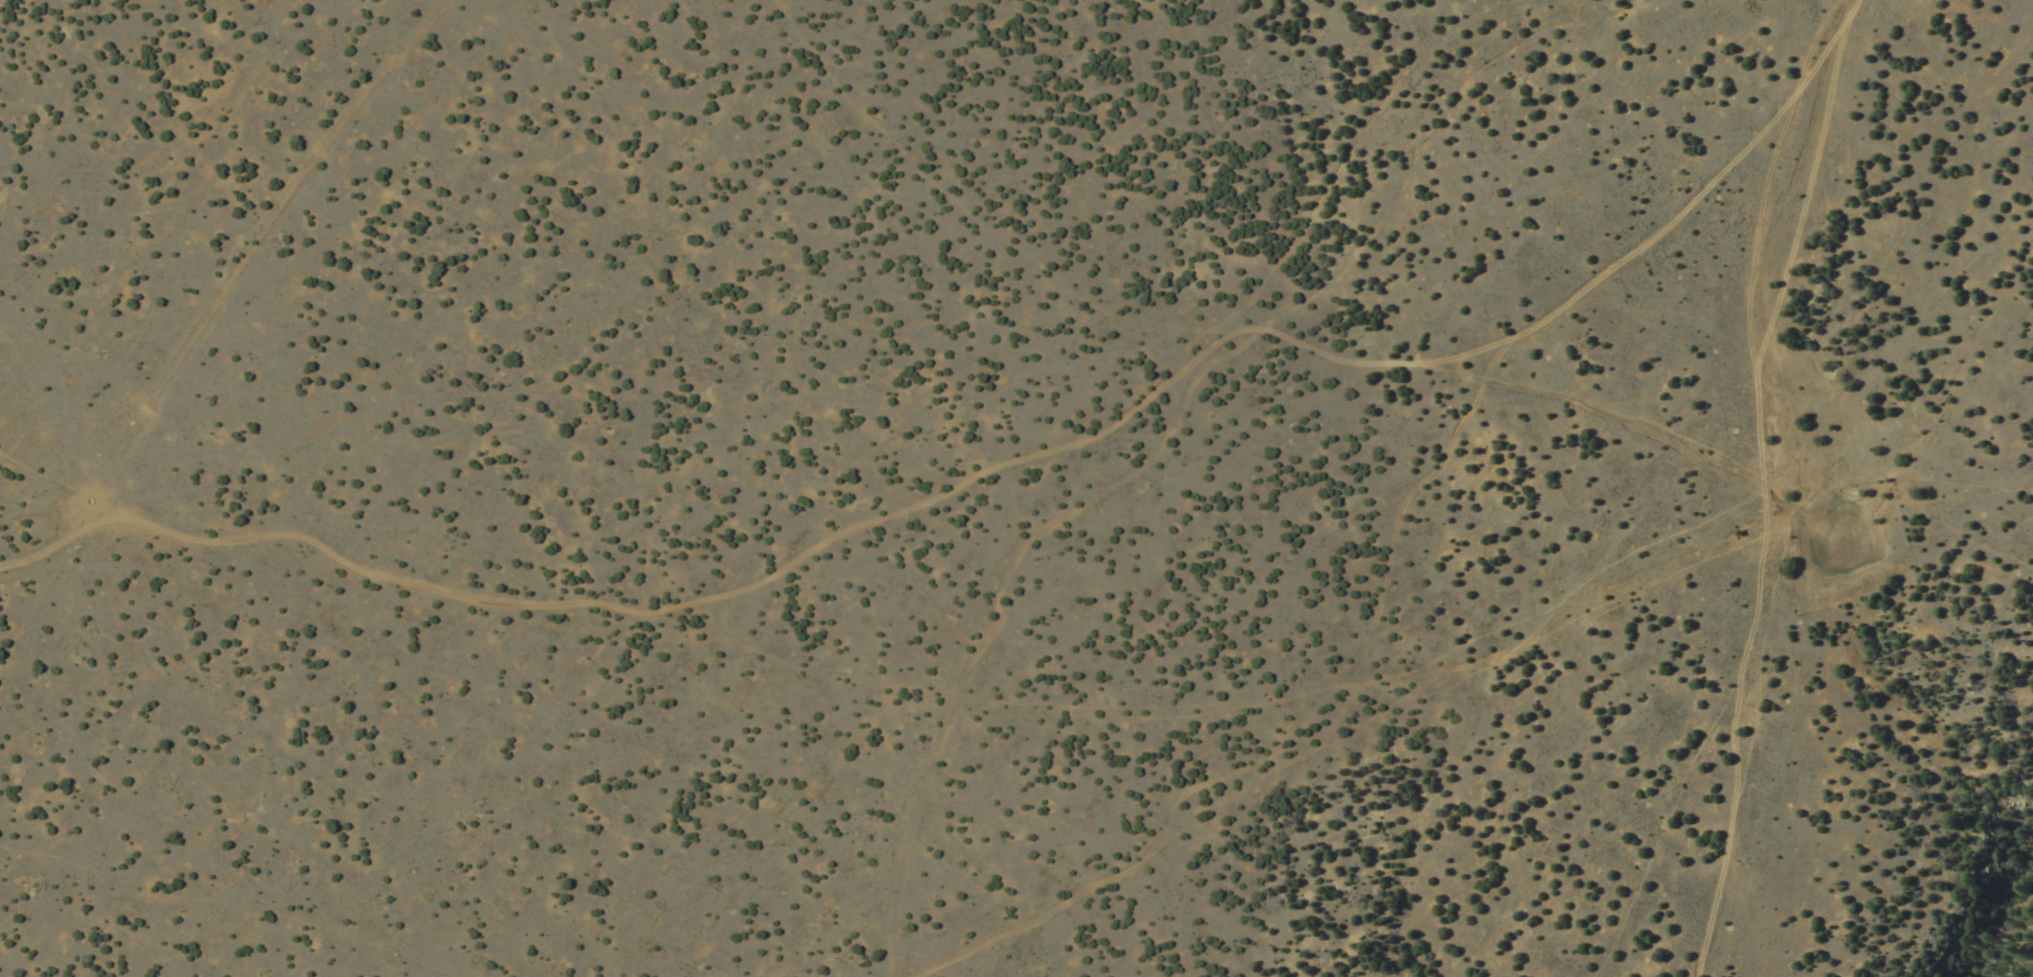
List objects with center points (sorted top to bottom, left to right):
road: (1148, 460)
road: (258, 824)

